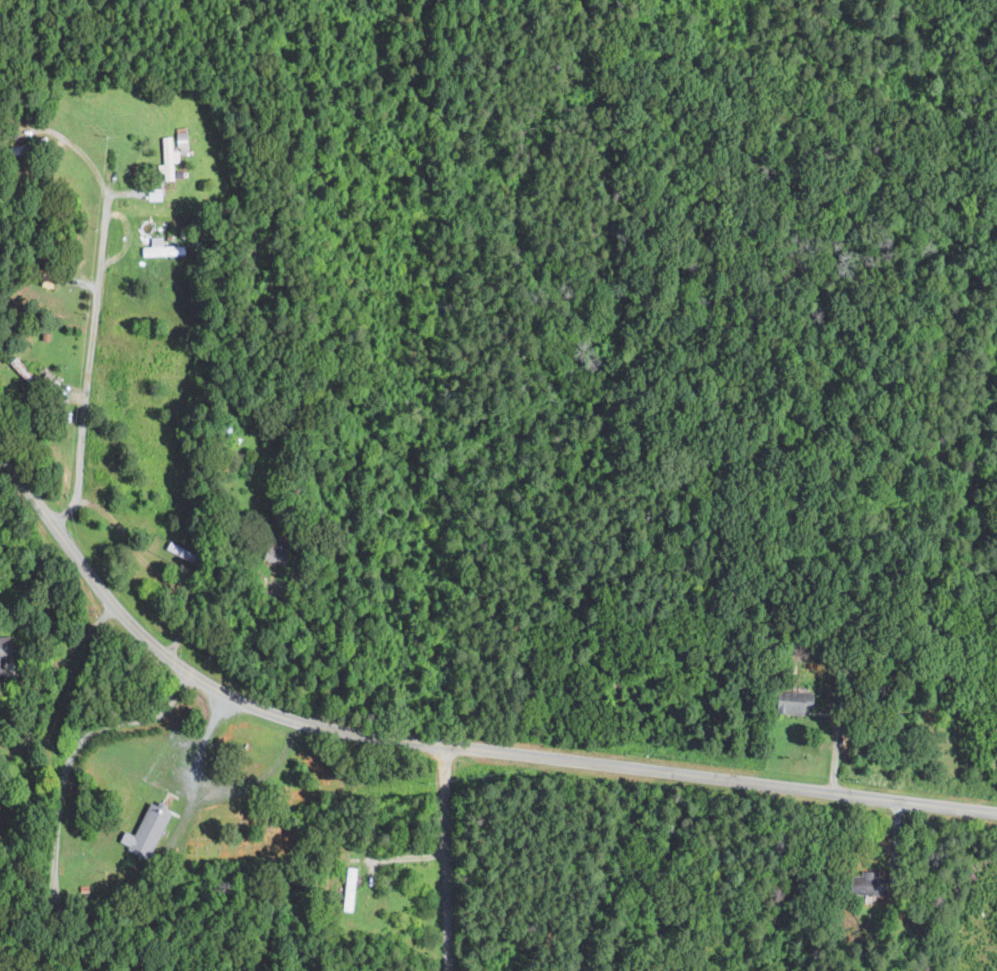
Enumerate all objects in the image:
road: (34, 44)
road: (86, 159)
building: (173, 159)
building: (165, 247)
road: (90, 365)
road: (87, 633)
road: (310, 642)
road: (29, 671)
road: (32, 715)
road: (441, 745)
road: (196, 767)
road: (261, 780)
road: (61, 782)
building: (150, 830)
road: (448, 858)
building: (354, 878)

